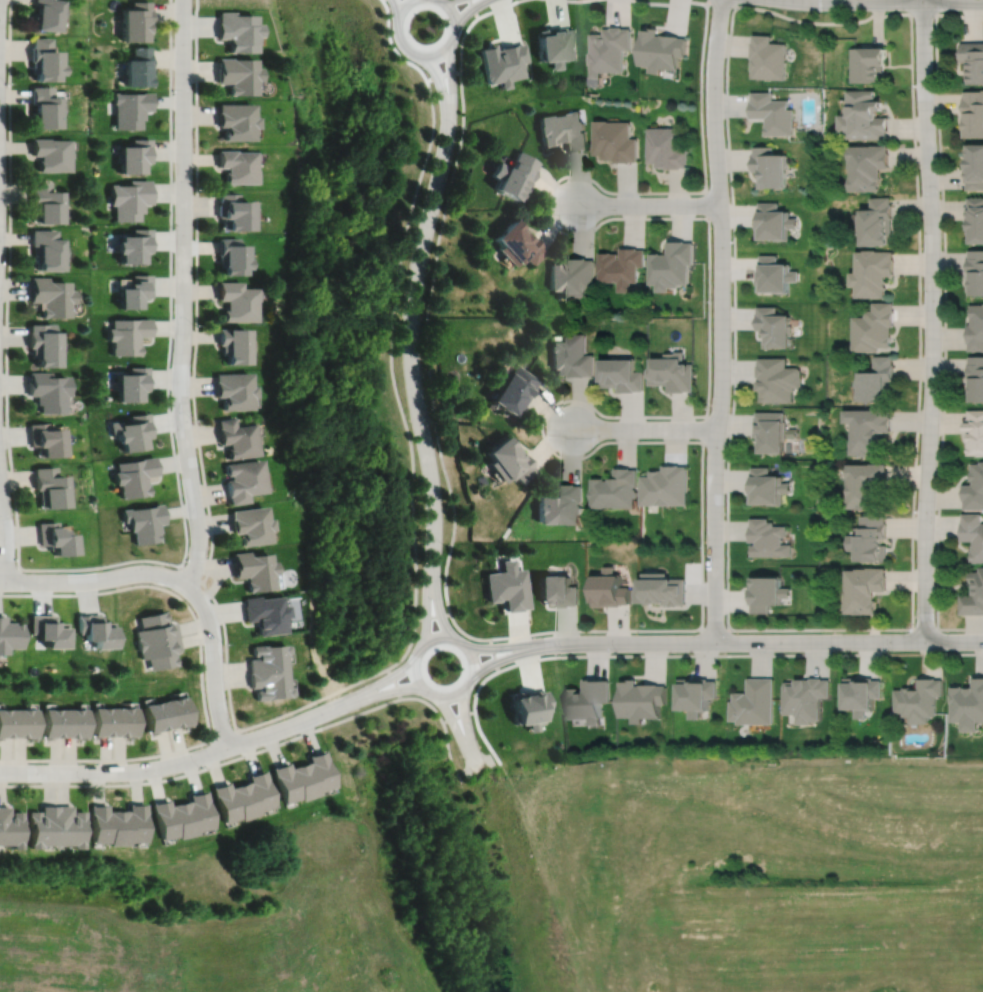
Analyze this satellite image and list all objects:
road: (893, 0)
road: (720, 1)
road: (473, 8)
road: (497, 8)
street lamp: (944, 10)
road: (909, 12)
road: (922, 12)
road: (395, 13)
road: (468, 13)
building: (45, 14)
building: (136, 21)
street lamp: (465, 26)
building: (238, 31)
building: (555, 45)
building: (661, 49)
building: (609, 50)
road: (426, 55)
building: (769, 57)
building: (43, 60)
building: (972, 60)
building: (503, 63)
building: (868, 64)
building: (137, 67)
building: (238, 75)
road: (443, 75)
street lamp: (6, 82)
road: (452, 86)
street lamp: (914, 86)
street lamp: (174, 89)
street lamp: (703, 91)
road: (441, 92)
building: (43, 107)
building: (131, 109)
building: (773, 113)
building: (973, 114)
building: (864, 116)
building: (237, 121)
street lamp: (458, 126)
building: (562, 130)
building: (615, 141)
building: (667, 147)
building: (50, 154)
building: (135, 157)
building: (868, 166)
building: (237, 167)
building: (770, 168)
building: (974, 168)
building: (512, 176)
street lamp: (560, 182)
street lamp: (708, 185)
street lamp: (194, 189)
street lamp: (939, 191)
building: (130, 200)
road: (546, 204)
road: (647, 204)
building: (43, 205)
building: (233, 213)
street lamp: (441, 216)
building: (975, 219)
building: (774, 222)
building: (878, 222)
building: (515, 244)
building: (134, 247)
building: (45, 251)
building: (231, 258)
building: (672, 266)
building: (622, 268)
building: (873, 273)
building: (975, 273)
building: (775, 276)
building: (571, 278)
building: (135, 292)
road: (184, 294)
building: (50, 298)
street lamp: (921, 299)
street lamp: (711, 300)
building: (237, 303)
street lamp: (424, 318)
road: (721, 320)
road: (931, 320)
road: (943, 320)
street lamp: (4, 321)
street lamp: (194, 325)
road: (395, 328)
building: (775, 328)
building: (875, 328)
building: (975, 328)
building: (128, 335)
road: (428, 338)
building: (43, 344)
building: (233, 347)
road: (413, 350)
building: (571, 357)
building: (673, 373)
building: (622, 376)
building: (976, 379)
building: (778, 381)
building: (878, 381)
building: (131, 383)
road: (708, 385)
building: (511, 387)
building: (234, 389)
building: (46, 390)
street lamp: (559, 404)
street lamp: (427, 406)
street lamp: (939, 407)
street lamp: (709, 408)
street lamp: (193, 419)
road: (543, 426)
road: (644, 428)
building: (132, 431)
building: (771, 431)
building: (870, 432)
building: (975, 433)
building: (237, 437)
building: (44, 438)
road: (199, 451)
building: (507, 458)
building: (134, 475)
building: (244, 479)
building: (665, 484)
building: (48, 486)
building: (767, 486)
building: (866, 486)
building: (615, 488)
building: (974, 489)
building: (560, 504)
street lamp: (915, 512)
building: (143, 522)
building: (251, 524)
road: (5, 531)
building: (973, 535)
building: (54, 537)
building: (768, 537)
building: (871, 539)
street lamp: (444, 544)
street lamp: (703, 546)
road: (101, 567)
street lamp: (173, 567)
road: (9, 569)
building: (254, 569)
street lamp: (25, 571)
road: (192, 576)
road: (93, 581)
building: (506, 585)
building: (608, 588)
building: (662, 588)
building: (865, 588)
building: (556, 589)
building: (766, 591)
building: (974, 595)
road: (437, 605)
road: (426, 610)
building: (265, 613)
road: (432, 615)
street lamp: (933, 619)
building: (155, 628)
road: (923, 629)
building: (48, 630)
building: (95, 630)
road: (711, 630)
street lamp: (731, 631)
street lamp: (461, 633)
building: (9, 635)
street lamp: (223, 642)
road: (768, 642)
road: (507, 646)
street lamp: (890, 650)
street lamp: (616, 652)
building: (160, 653)
road: (493, 654)
road: (739, 654)
road: (511, 656)
building: (266, 658)
road: (214, 662)
road: (416, 676)
road: (202, 681)
road: (394, 682)
building: (268, 684)
road: (370, 688)
building: (697, 694)
building: (860, 694)
road: (374, 695)
building: (805, 698)
building: (588, 699)
building: (918, 699)
building: (641, 700)
building: (755, 702)
street lamp: (320, 703)
building: (968, 705)
building: (527, 707)
building: (176, 712)
road: (474, 713)
building: (155, 716)
road: (457, 716)
building: (102, 722)
building: (123, 722)
building: (6, 723)
building: (23, 723)
building: (51, 723)
building: (73, 723)
road: (443, 727)
road: (466, 728)
road: (456, 731)
road: (225, 736)
road: (165, 766)
street lamp: (200, 768)
road: (205, 768)
building: (315, 773)
street lamp: (85, 782)
building: (289, 782)
building: (256, 794)
building: (232, 802)
building: (196, 814)
building: (169, 820)
building: (104, 825)
building: (132, 825)
building: (41, 827)
building: (68, 827)
building: (9, 828)

